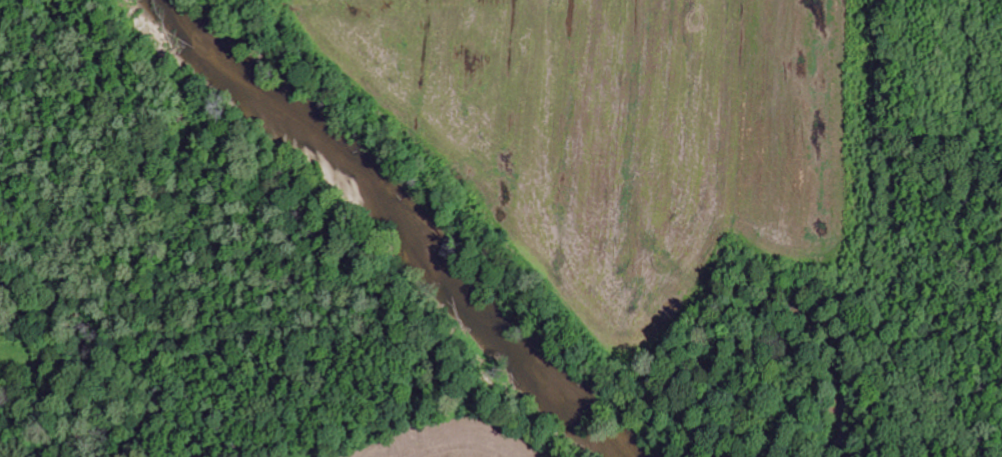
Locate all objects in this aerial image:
river: (397, 221)

